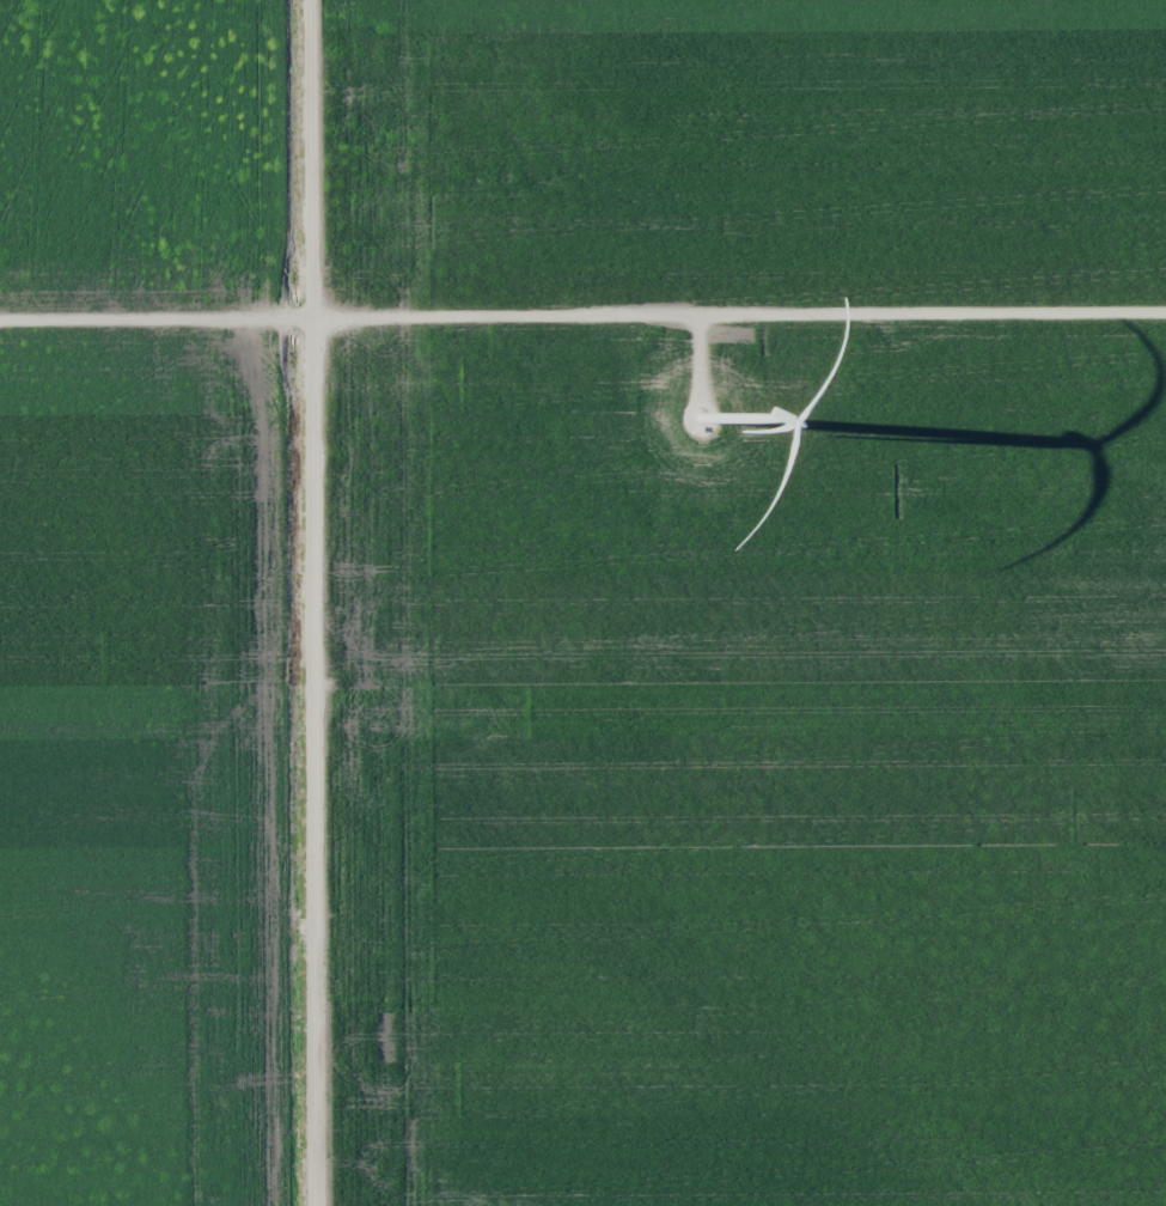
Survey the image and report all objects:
wind turbine: (701, 414)
road: (316, 603)

